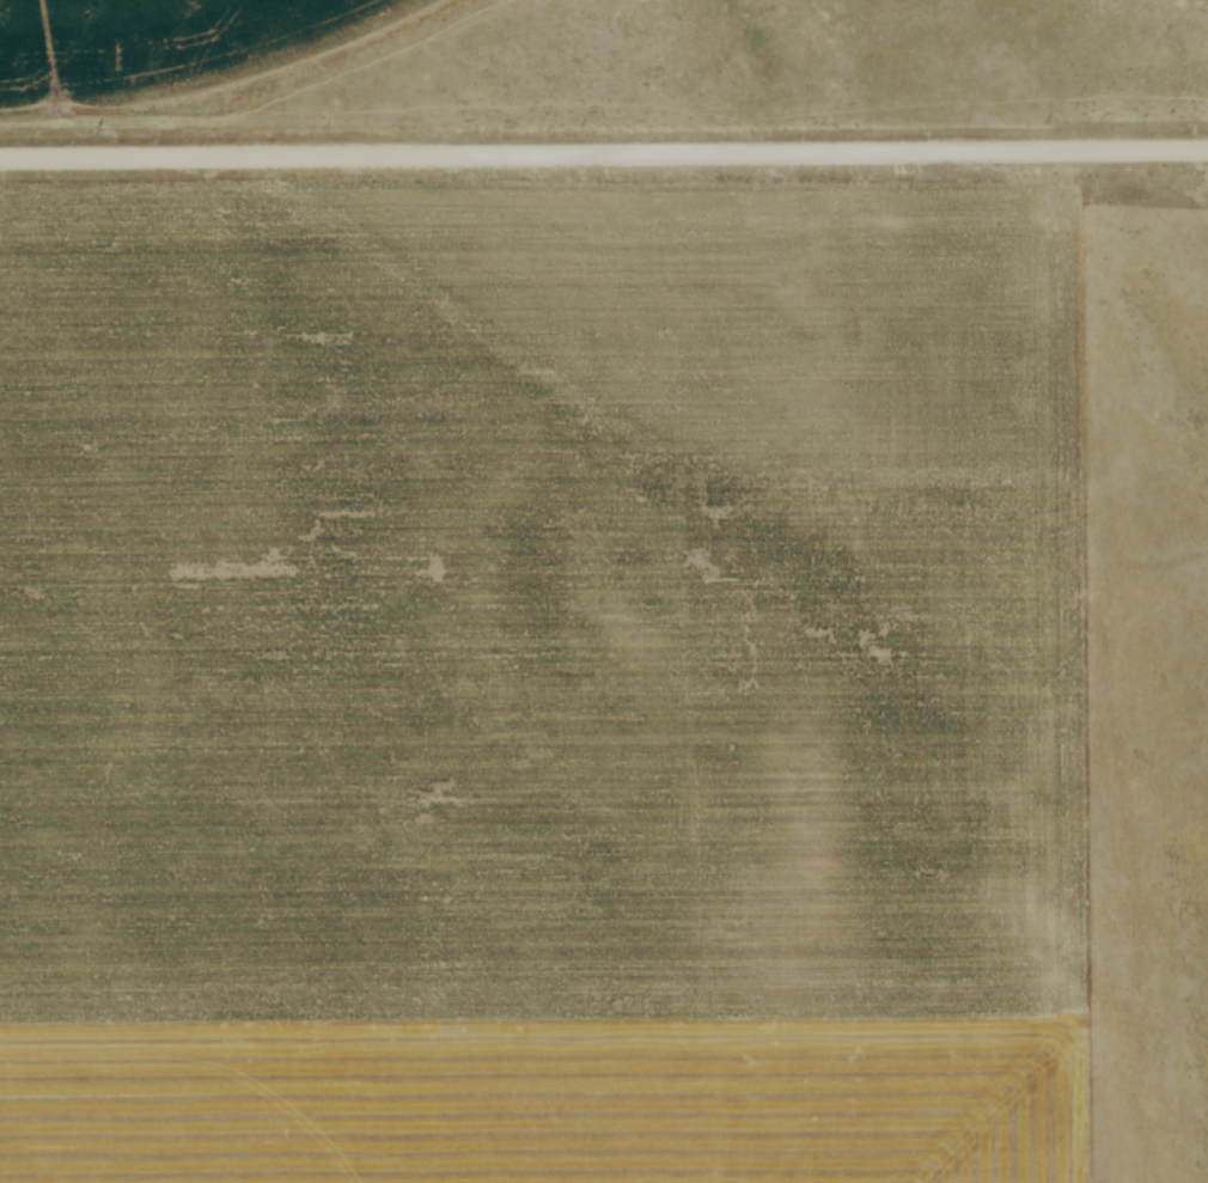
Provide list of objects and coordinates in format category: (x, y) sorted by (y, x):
crop: (150, 37)
road: (603, 152)

